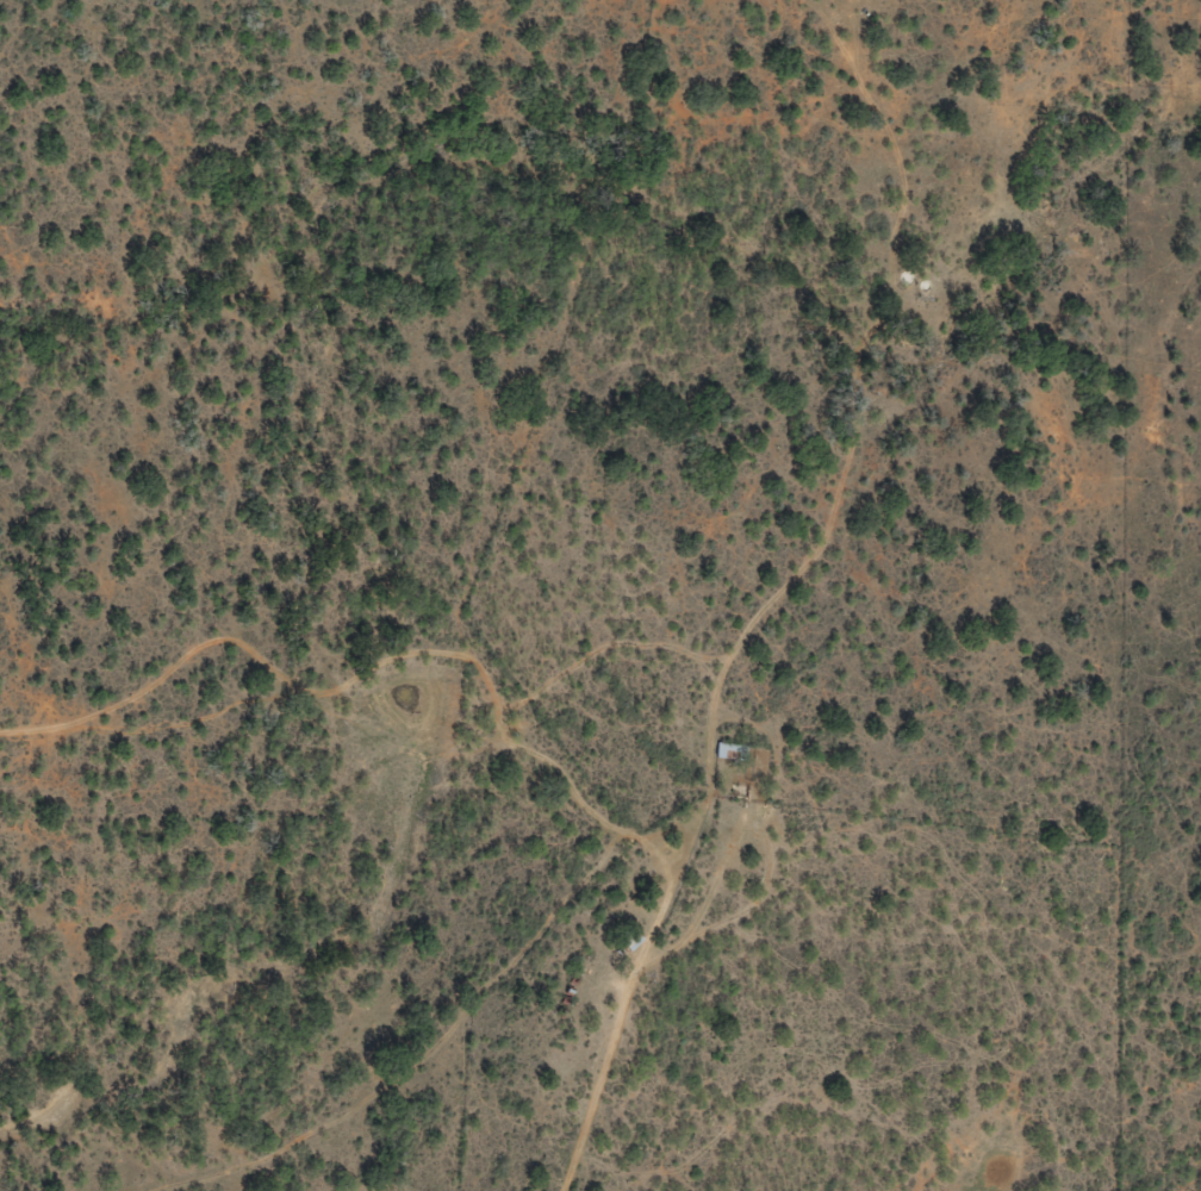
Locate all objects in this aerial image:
building: (730, 753)
building: (631, 943)
road: (628, 1068)

